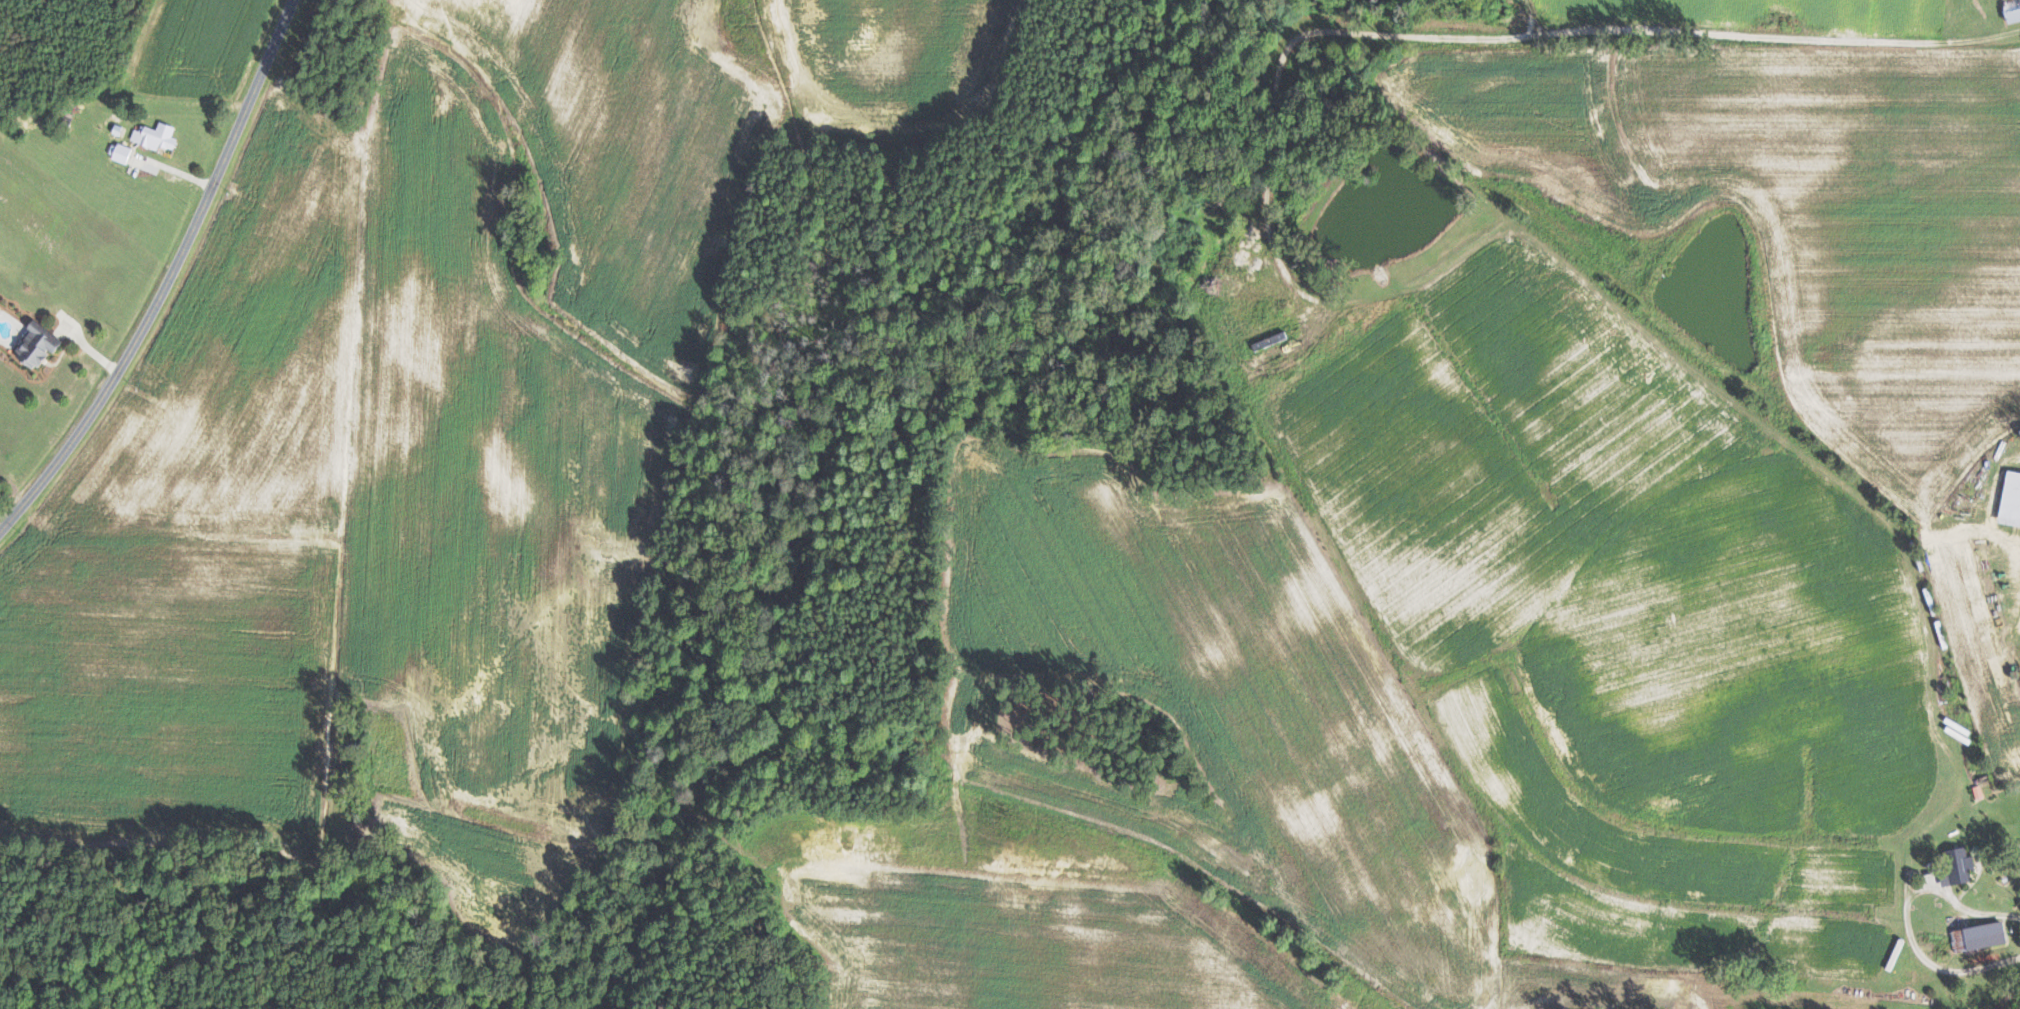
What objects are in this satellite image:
building: (2014, 10)
road: (2010, 32)
building: (158, 136)
building: (122, 151)
road: (125, 155)
road: (168, 279)
building: (1267, 341)
building: (41, 345)
building: (2013, 500)
road: (3, 524)
building: (1979, 792)
building: (1961, 868)
road: (1904, 918)
building: (1982, 937)

